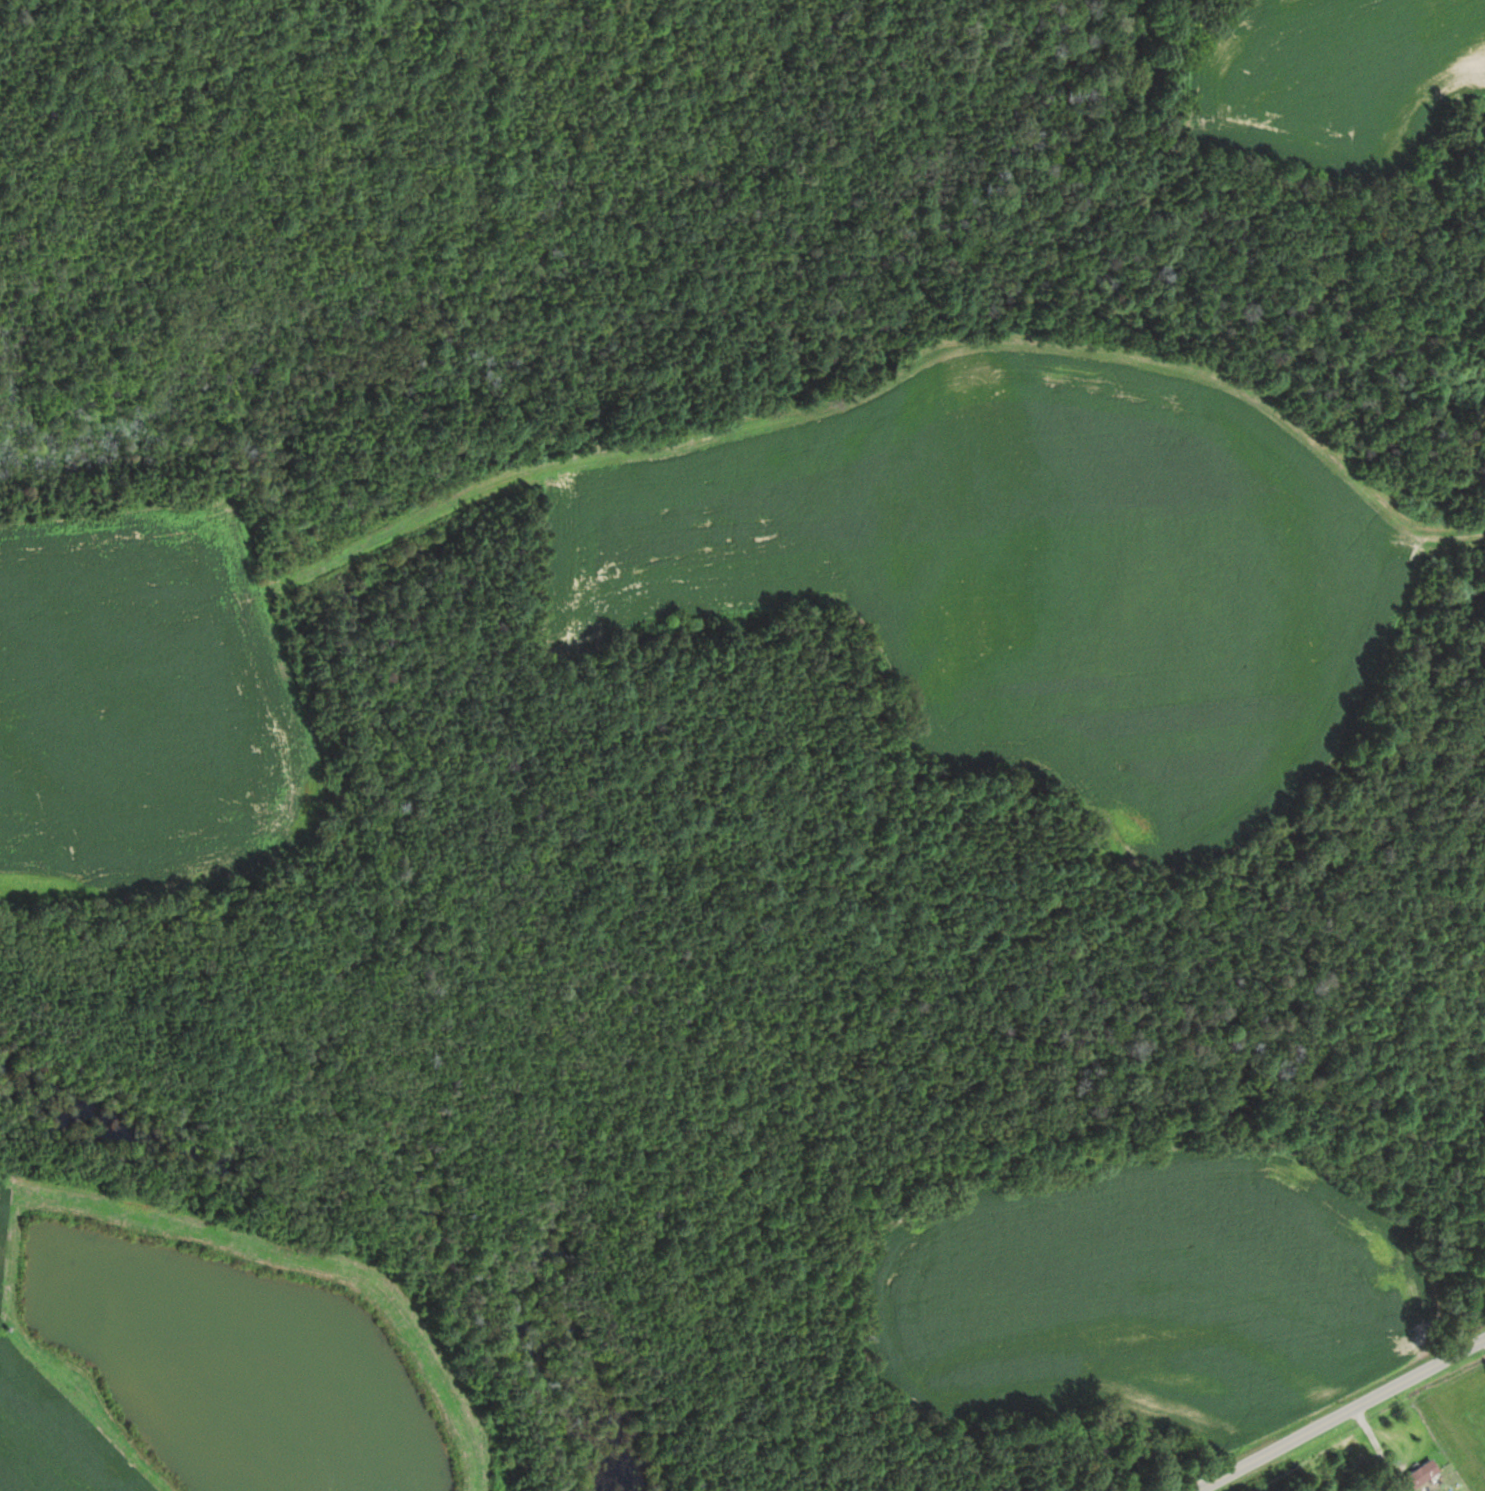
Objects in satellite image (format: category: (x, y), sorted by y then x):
road: (1342, 1415)
building: (1419, 1473)

